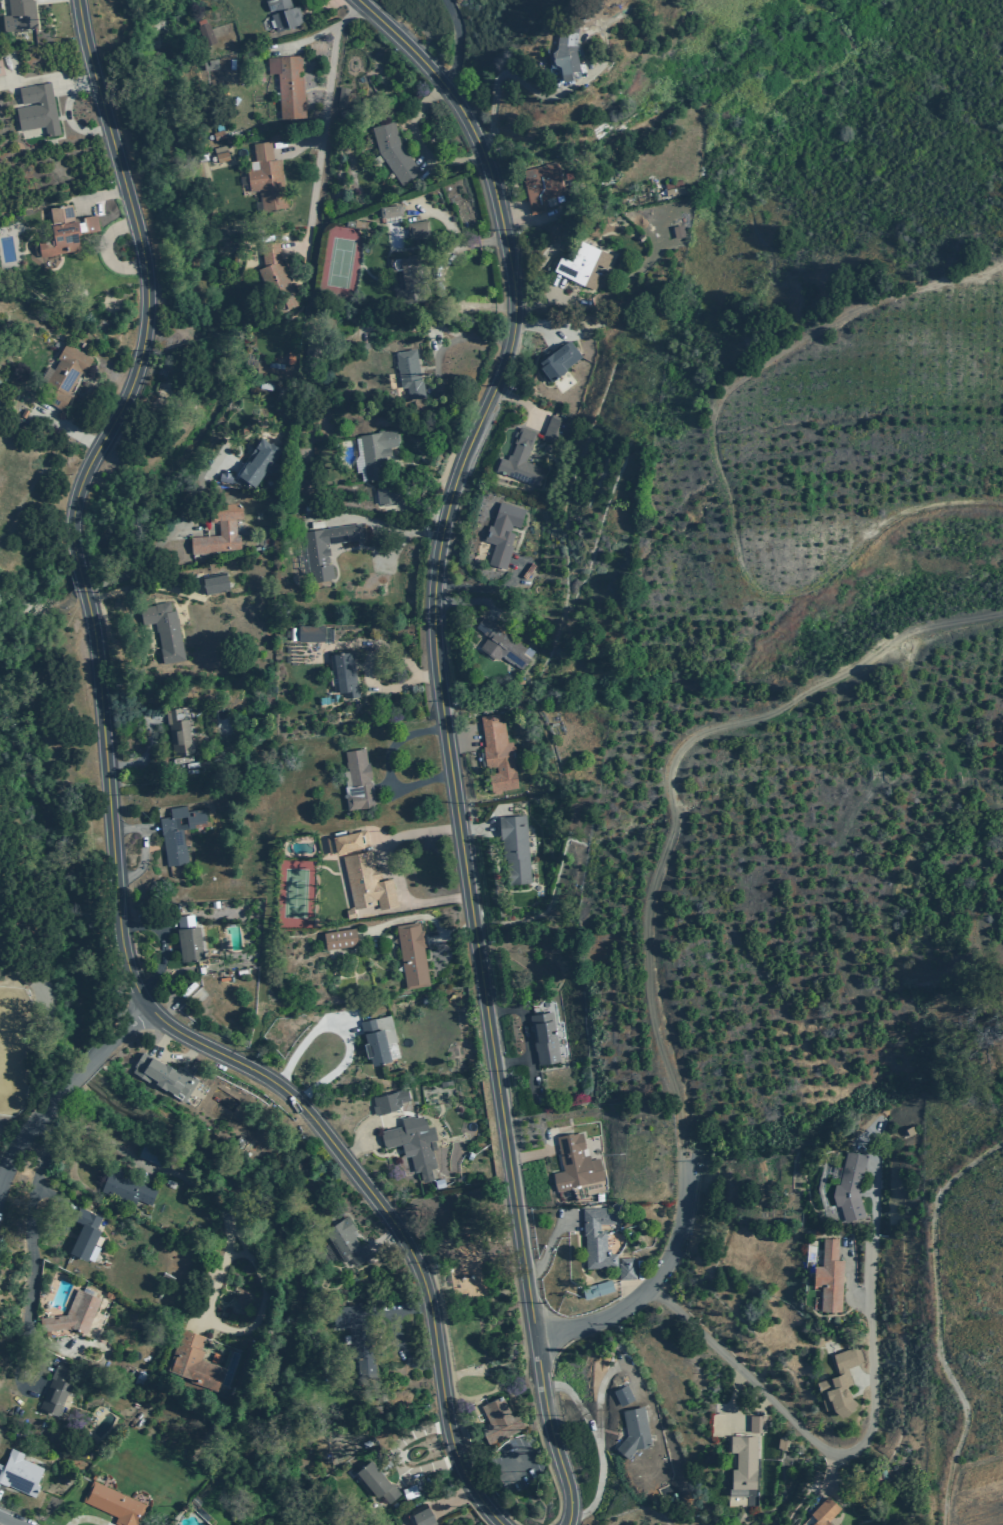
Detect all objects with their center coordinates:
road: (328, 4)
building: (283, 14)
building: (20, 15)
building: (205, 32)
road: (305, 40)
road: (457, 42)
building: (566, 51)
building: (232, 64)
building: (210, 65)
road: (428, 68)
building: (1, 69)
road: (10, 71)
road: (76, 77)
road: (515, 78)
road: (30, 81)
building: (290, 87)
building: (342, 98)
building: (37, 109)
road: (68, 120)
road: (322, 130)
building: (218, 135)
road: (300, 144)
road: (420, 144)
building: (393, 152)
building: (222, 157)
building: (266, 177)
building: (673, 184)
building: (541, 185)
building: (674, 191)
road: (101, 195)
building: (391, 211)
road: (528, 220)
building: (349, 223)
building: (360, 224)
building: (417, 230)
building: (59, 231)
road: (455, 231)
building: (677, 232)
road: (105, 249)
park: (339, 263)
building: (583, 265)
building: (407, 278)
building: (276, 279)
road: (146, 285)
road: (540, 300)
road: (480, 306)
road: (539, 326)
road: (455, 339)
building: (311, 352)
building: (290, 358)
building: (559, 361)
building: (275, 365)
building: (409, 375)
building: (63, 377)
building: (265, 386)
road: (520, 402)
building: (24, 414)
road: (66, 428)
building: (555, 430)
road: (418, 431)
building: (376, 453)
building: (521, 461)
building: (259, 462)
road: (719, 476)
building: (386, 495)
road: (424, 513)
road: (386, 525)
building: (220, 533)
building: (502, 533)
building: (317, 551)
road: (148, 554)
road: (80, 577)
building: (215, 584)
road: (148, 585)
road: (469, 586)
road: (464, 603)
building: (164, 630)
building: (310, 633)
building: (292, 634)
road: (344, 643)
building: (501, 644)
road: (372, 653)
building: (345, 675)
building: (177, 733)
road: (461, 741)
building: (498, 754)
road: (144, 757)
road: (387, 768)
road: (667, 773)
building: (358, 780)
road: (386, 790)
road: (148, 828)
road: (476, 830)
building: (178, 832)
road: (460, 833)
road: (449, 837)
road: (142, 848)
building: (514, 849)
building: (362, 871)
road: (395, 871)
park: (296, 893)
road: (552, 895)
building: (214, 904)
road: (384, 911)
building: (350, 913)
road: (386, 924)
road: (479, 926)
road: (167, 928)
road: (451, 934)
building: (188, 939)
building: (340, 939)
road: (162, 943)
building: (412, 955)
road: (129, 972)
building: (24, 975)
road: (176, 1001)
road: (121, 1030)
road: (341, 1031)
road: (526, 1037)
building: (545, 1038)
building: (375, 1042)
road: (511, 1060)
road: (86, 1066)
building: (162, 1074)
building: (446, 1083)
building: (389, 1101)
road: (32, 1125)
building: (908, 1132)
road: (359, 1142)
building: (414, 1143)
building: (151, 1153)
building: (470, 1155)
road: (530, 1155)
building: (575, 1163)
building: (439, 1183)
building: (126, 1186)
building: (850, 1186)
road: (404, 1229)
building: (84, 1233)
road: (387, 1240)
building: (347, 1242)
building: (602, 1243)
road: (549, 1245)
road: (228, 1246)
road: (236, 1254)
road: (33, 1260)
building: (829, 1276)
road: (444, 1278)
road: (846, 1278)
road: (656, 1279)
road: (444, 1287)
park: (473, 1288)
building: (598, 1289)
road: (480, 1306)
road: (385, 1308)
building: (74, 1314)
road: (937, 1322)
building: (353, 1327)
road: (396, 1335)
road: (531, 1356)
building: (194, 1361)
road: (489, 1367)
building: (141, 1377)
road: (604, 1377)
road: (453, 1380)
road: (864, 1381)
road: (441, 1382)
building: (839, 1383)
building: (55, 1391)
building: (623, 1394)
road: (735, 1399)
fountain: (480, 1416)
road: (484, 1420)
building: (499, 1421)
building: (757, 1423)
road: (870, 1430)
building: (634, 1431)
building: (371, 1439)
building: (366, 1443)
building: (782, 1443)
road: (599, 1444)
road: (394, 1460)
building: (744, 1462)
parking lot: (516, 1464)
road: (502, 1472)
building: (20, 1473)
road: (405, 1478)
building: (376, 1481)
building: (410, 1492)
crop: (964, 1492)
road: (455, 1498)
building: (113, 1504)
building: (824, 1511)
building: (202, 1514)
building: (422, 1515)
road: (88, 1519)
road: (582, 1519)
road: (9, 1521)
road: (8, 1523)

